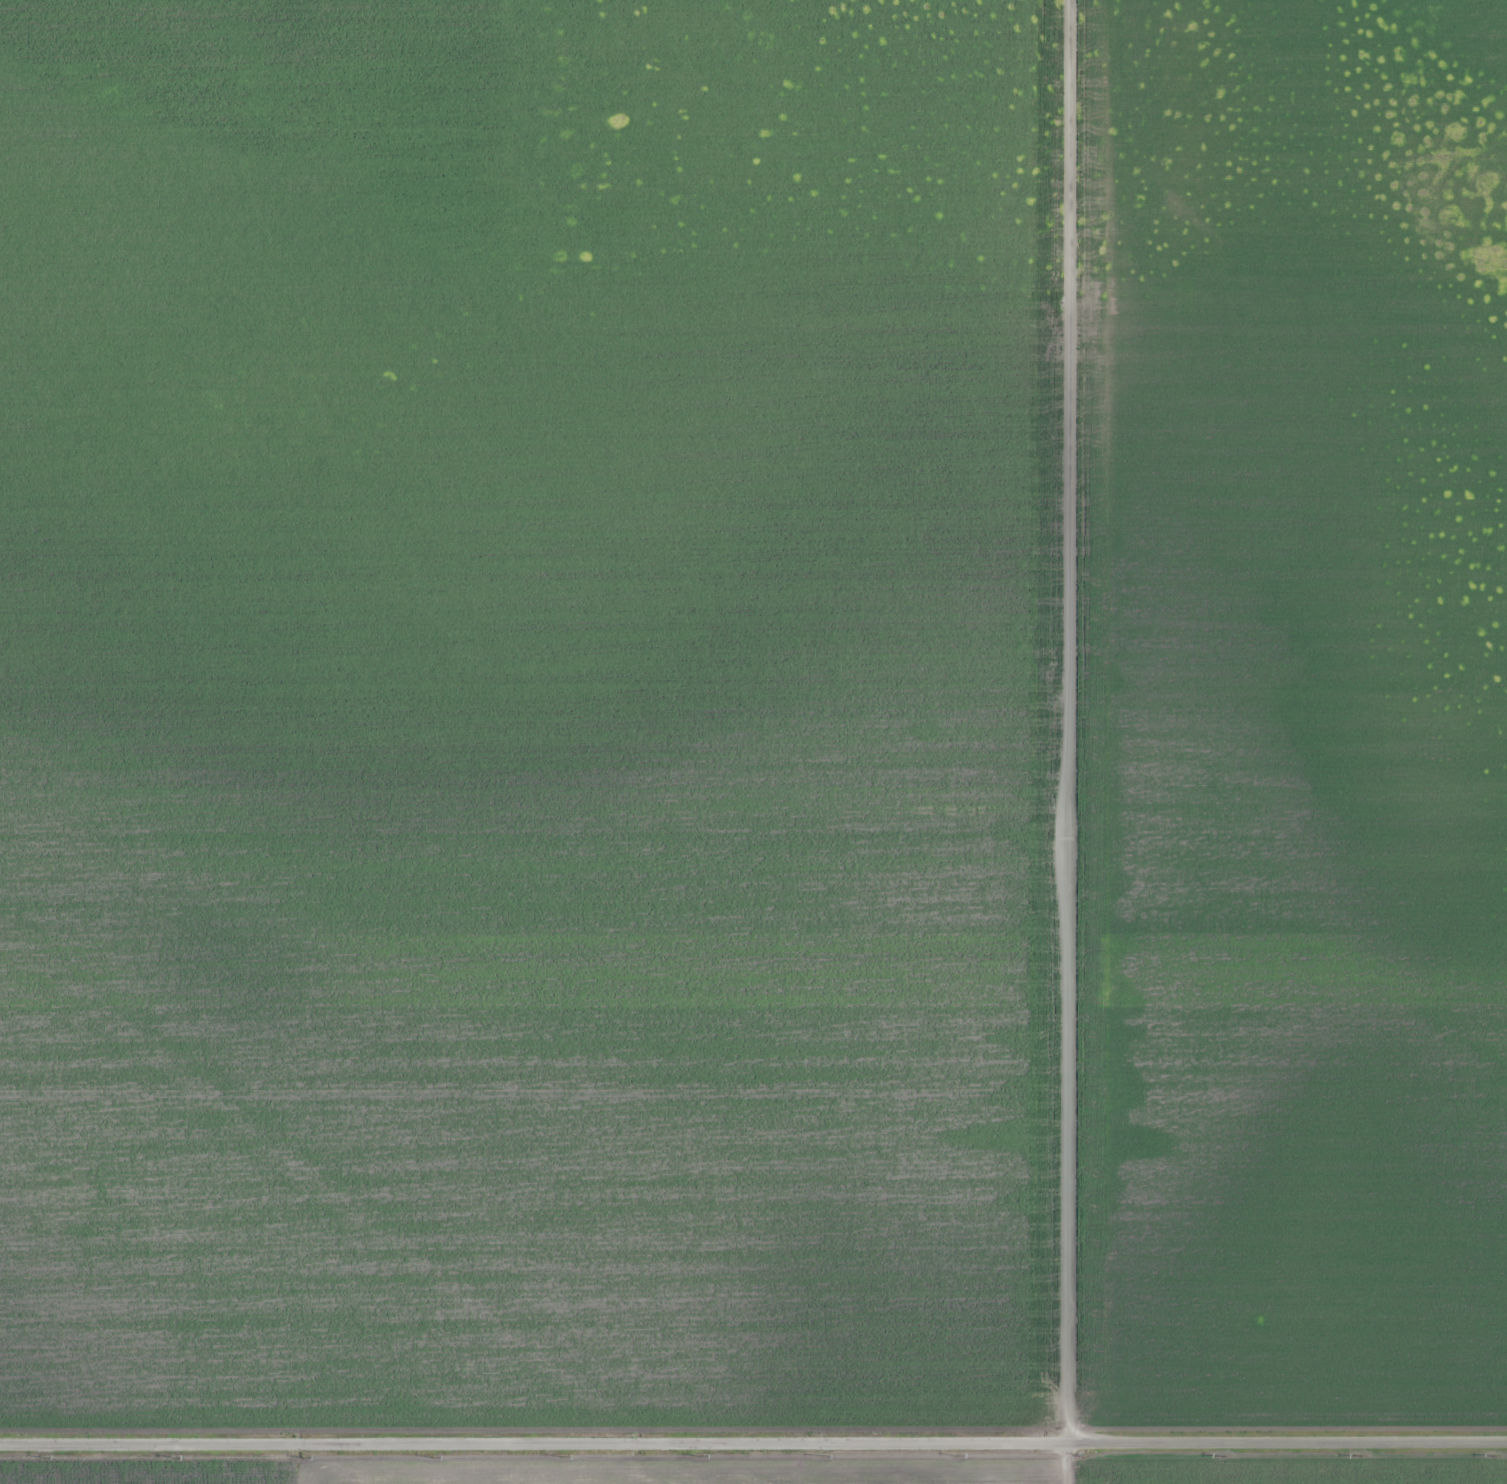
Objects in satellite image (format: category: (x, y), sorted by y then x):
road: (1084, 742)
road: (753, 1444)

